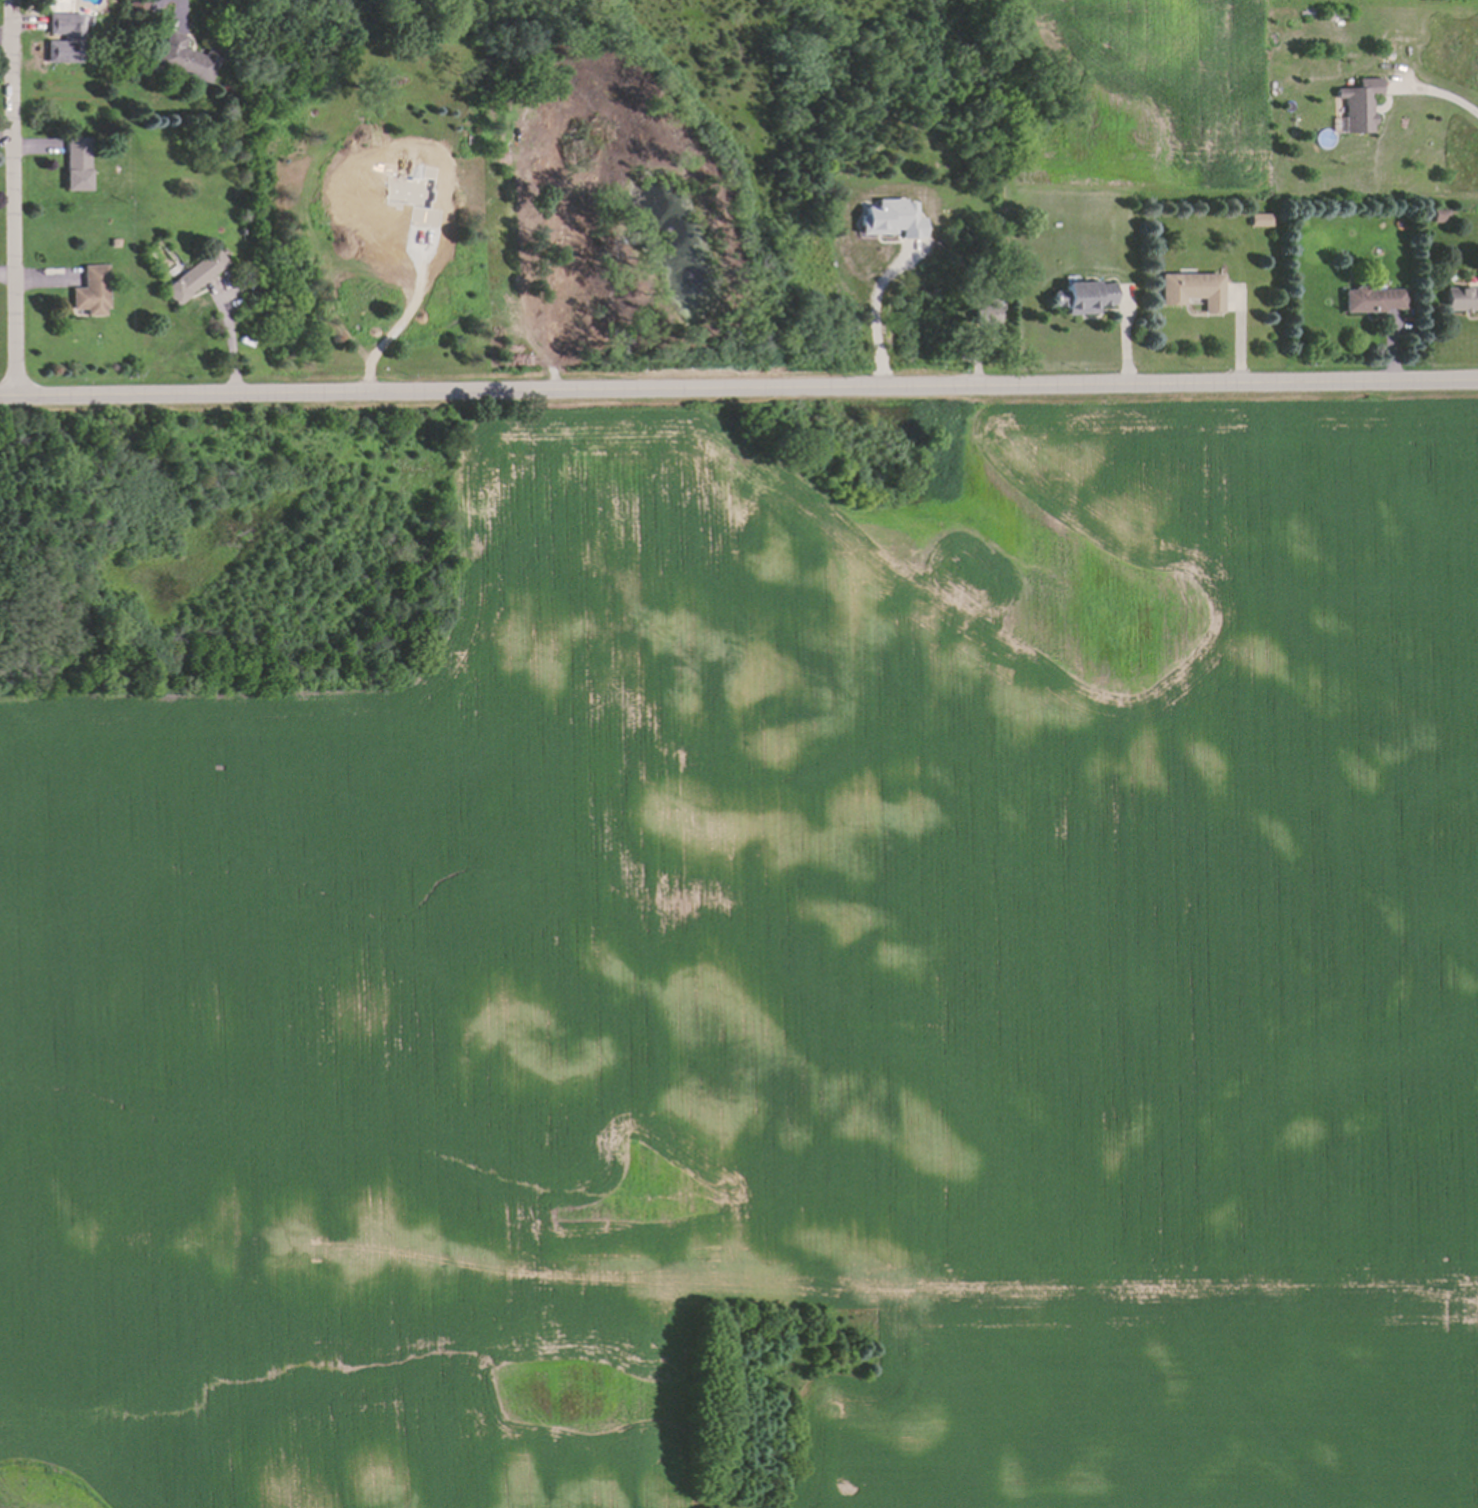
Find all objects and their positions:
road: (184, 5)
building: (135, 6)
building: (1342, 13)
building: (66, 38)
building: (187, 54)
building: (222, 87)
road: (1437, 90)
building: (1358, 109)
building: (216, 146)
building: (78, 162)
road: (15, 198)
building: (1437, 214)
building: (1260, 217)
building: (893, 219)
building: (112, 242)
building: (194, 276)
building: (1476, 276)
building: (1191, 286)
building: (88, 292)
building: (1083, 292)
building: (1372, 295)
building: (1460, 297)
road: (880, 309)
building: (981, 311)
building: (269, 316)
road: (404, 324)
road: (230, 339)
road: (739, 388)

